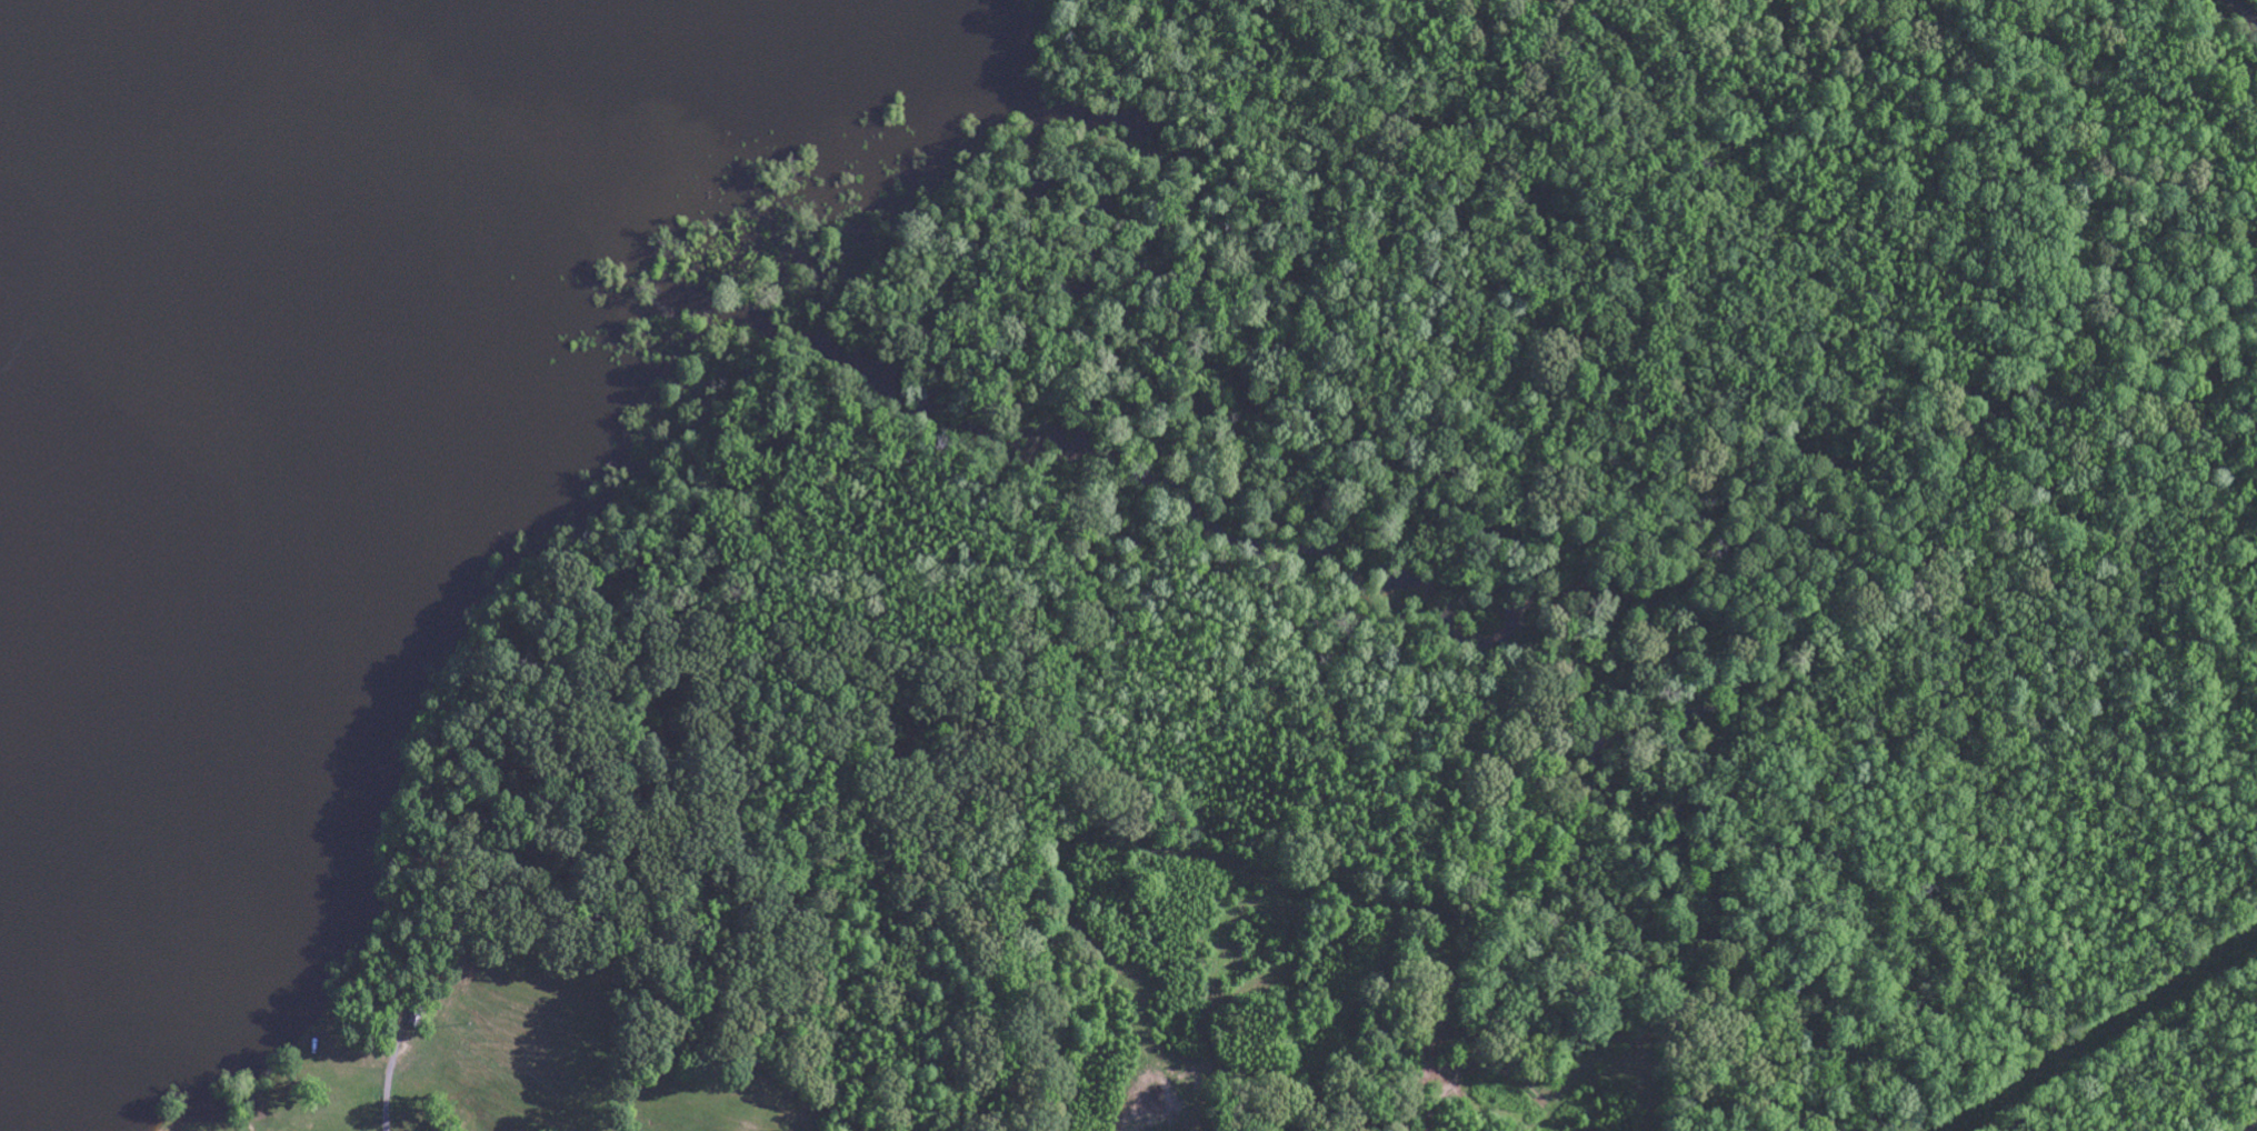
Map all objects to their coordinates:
road: (2243, 10)
road: (2251, 212)
road: (419, 1109)

